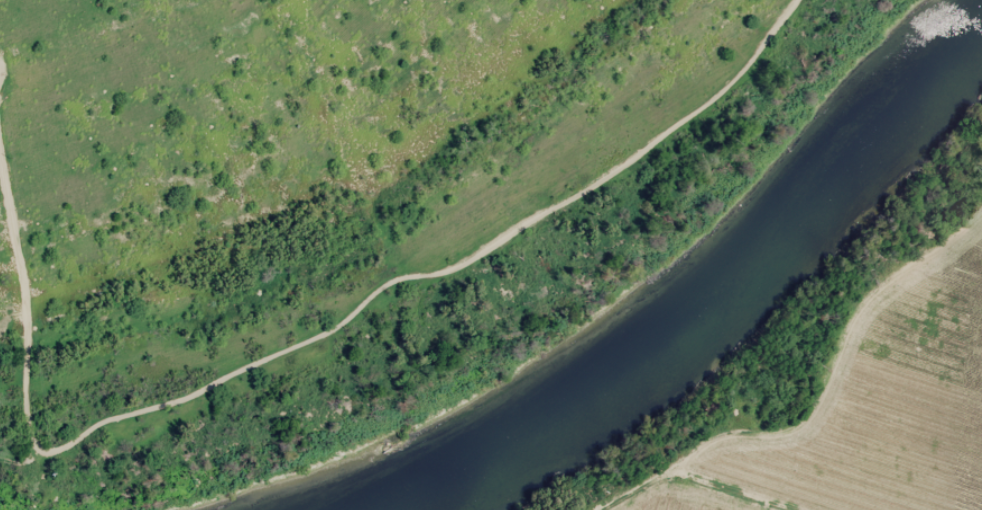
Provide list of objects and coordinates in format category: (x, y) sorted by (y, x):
river: (711, 309)

